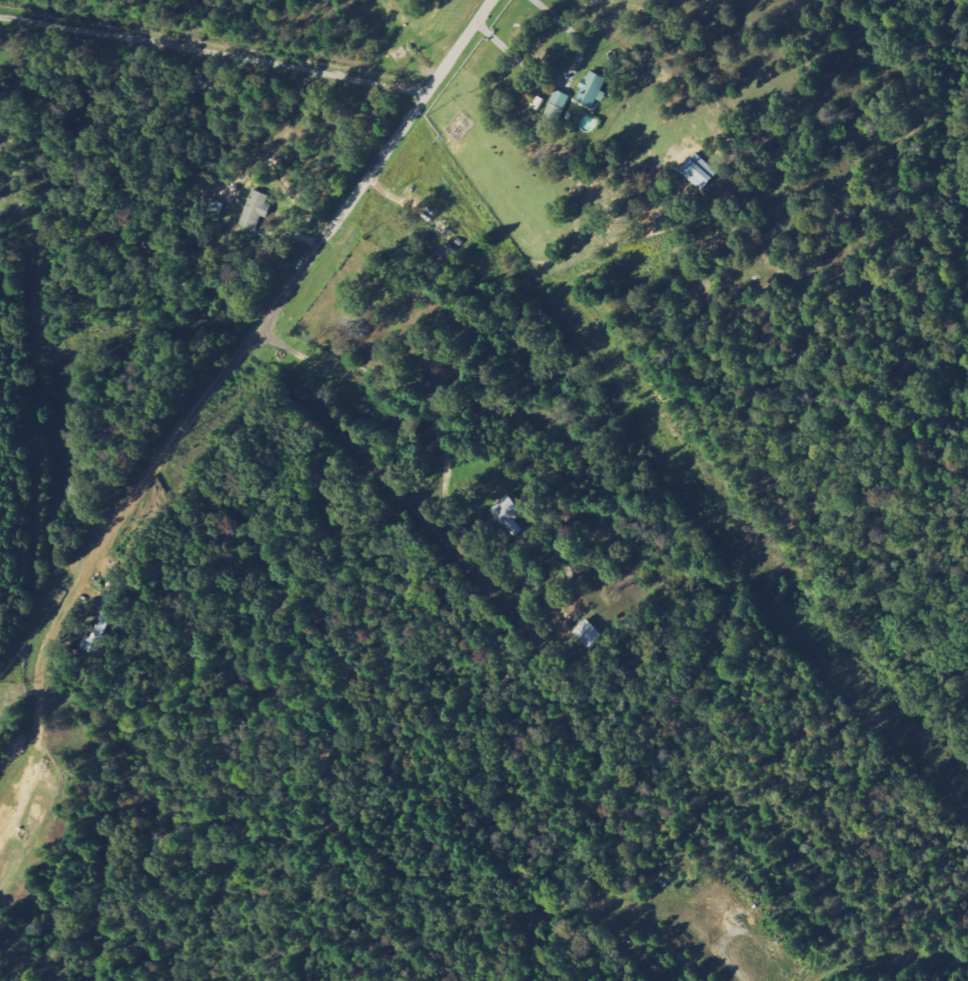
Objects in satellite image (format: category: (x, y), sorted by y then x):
building: (596, 88)
building: (559, 105)
building: (704, 173)
building: (258, 209)
road: (325, 235)
building: (447, 255)
building: (510, 508)
building: (104, 629)
building: (594, 635)

